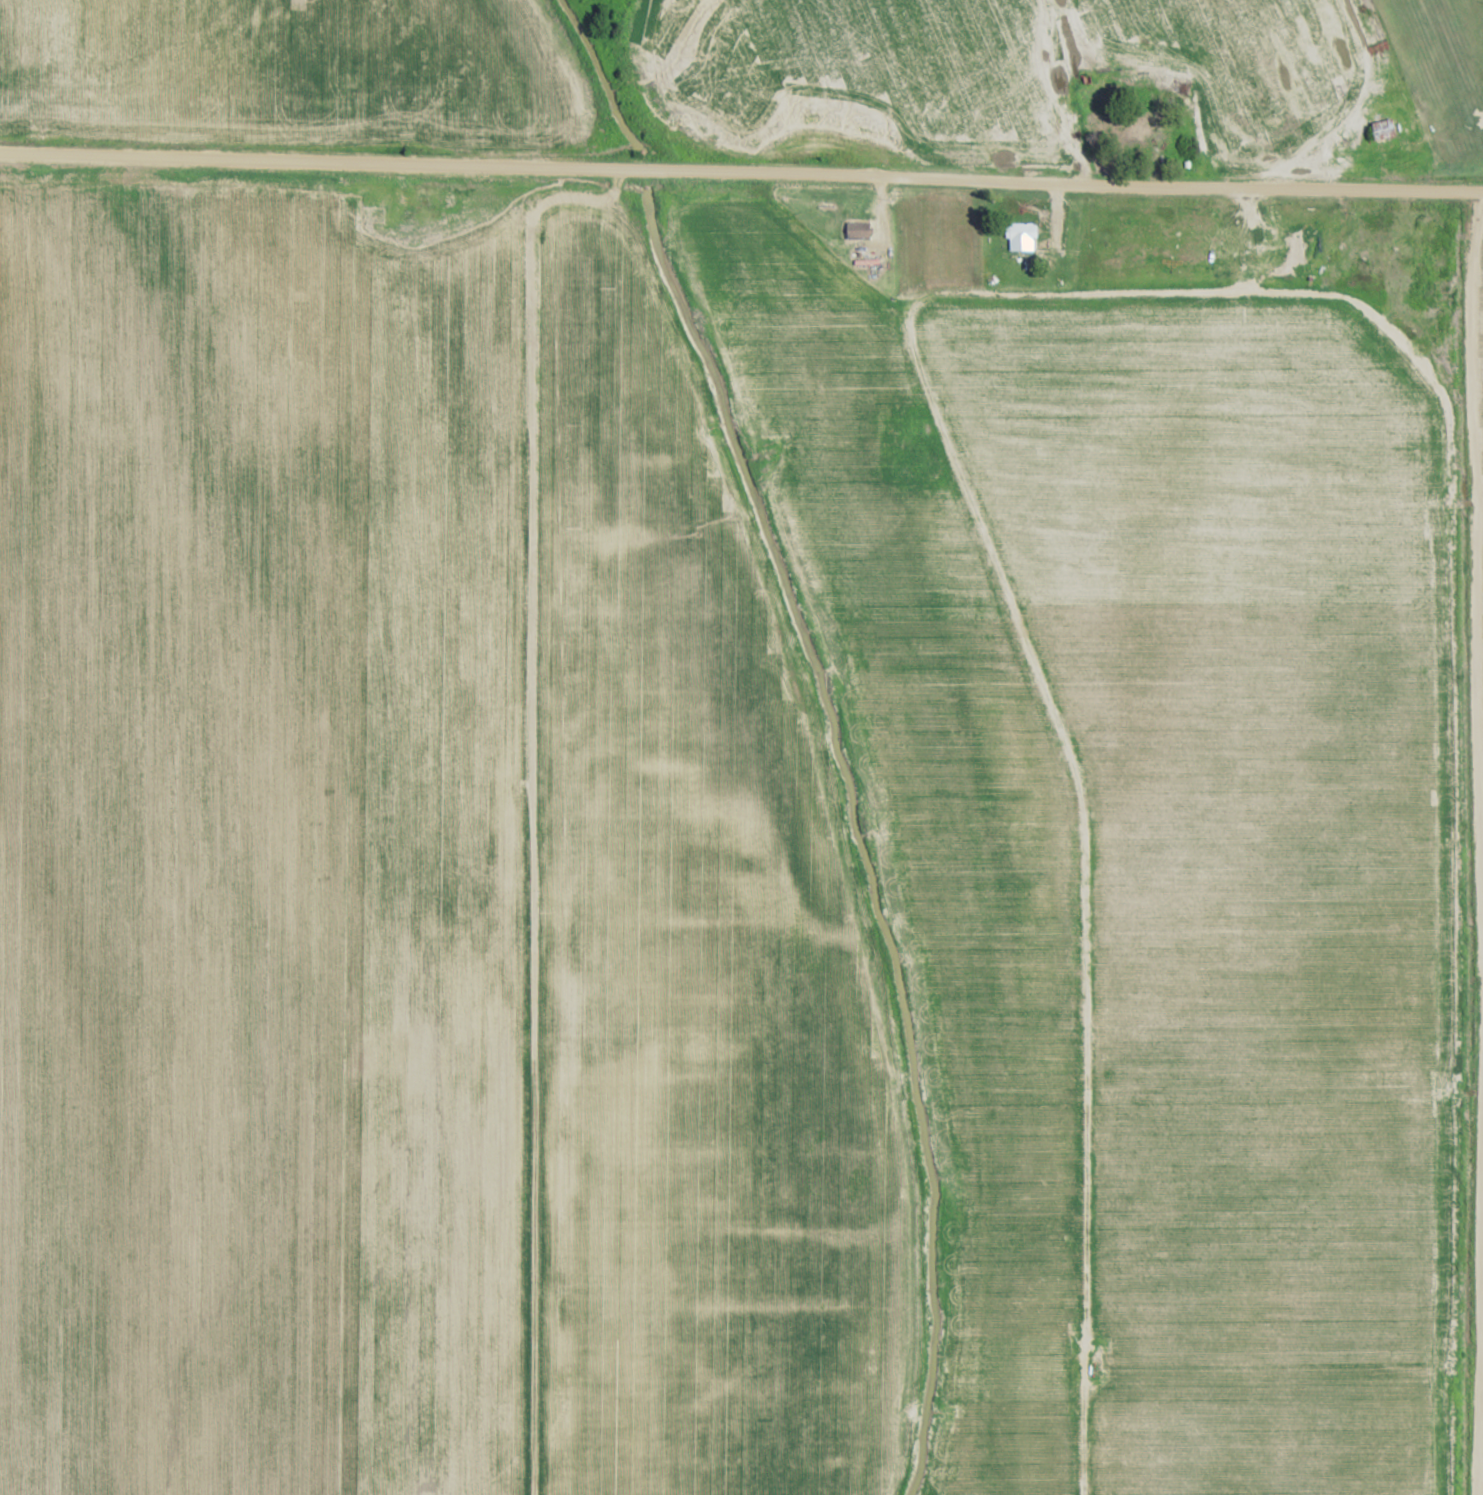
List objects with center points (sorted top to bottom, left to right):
road: (1072, 91)
building: (1386, 130)
building: (1146, 134)
road: (1422, 150)
road: (741, 175)
building: (861, 231)
building: (1023, 236)
building: (1429, 258)

